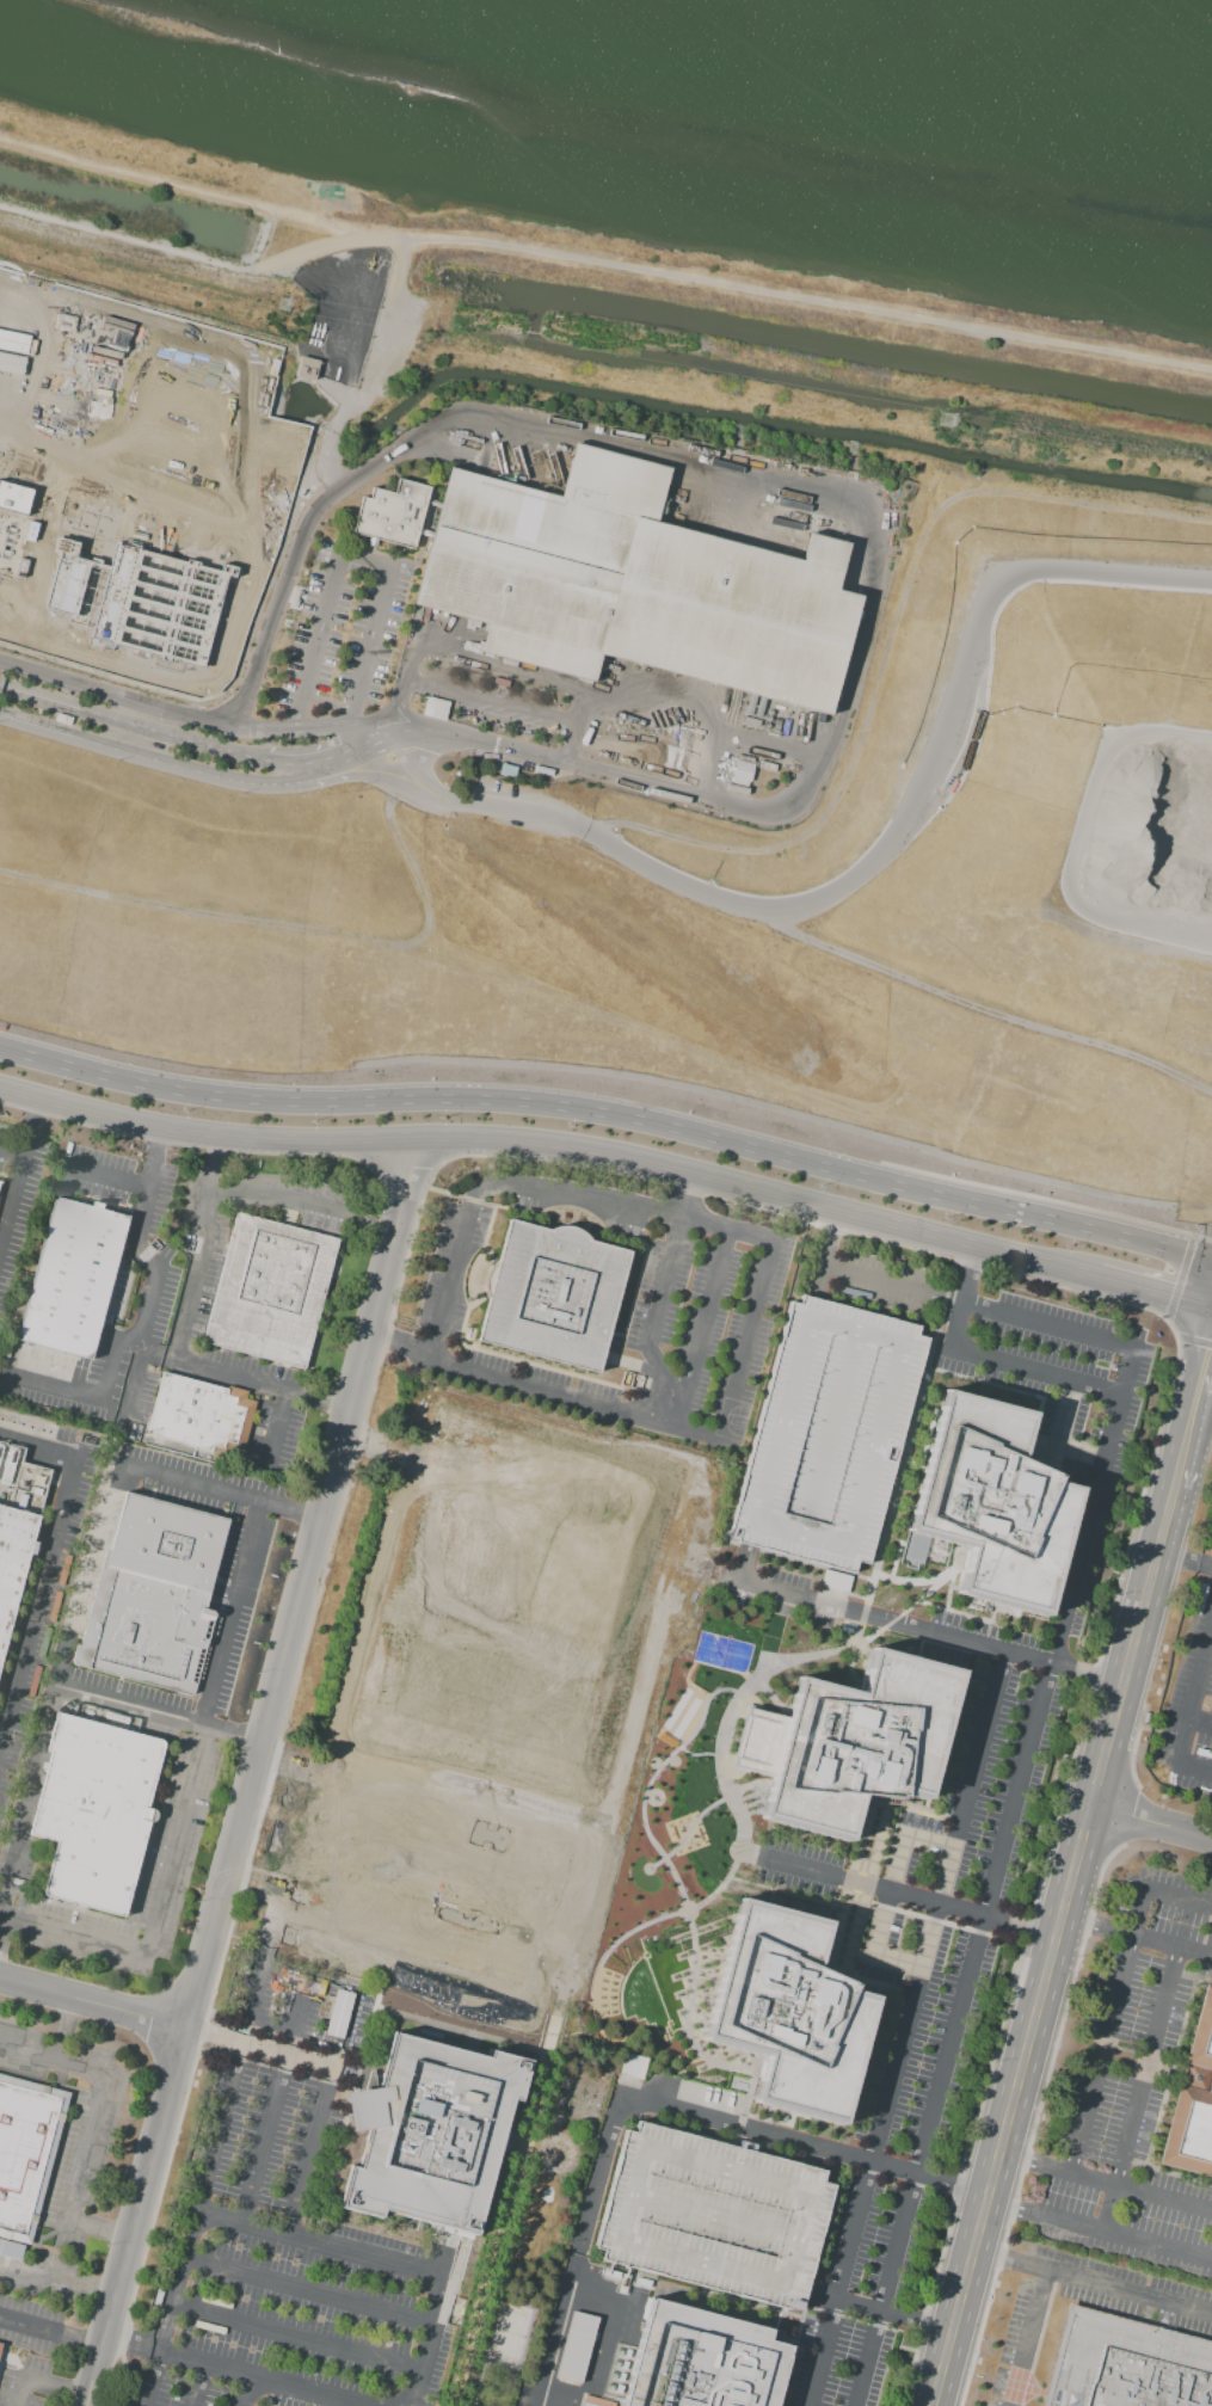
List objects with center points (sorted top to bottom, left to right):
road: (171, 185)
road: (603, 263)
power tower: (287, 307)
building: (306, 368)
power tower: (945, 424)
road: (720, 469)
wastewater plant: (139, 481)
building: (392, 516)
building: (539, 558)
road: (347, 559)
building: (207, 580)
building: (736, 614)
road: (675, 622)
road: (478, 697)
road: (327, 703)
building: (436, 709)
road: (195, 721)
road: (291, 724)
road: (350, 732)
road: (578, 747)
road: (287, 761)
road: (173, 762)
building: (742, 770)
building: (507, 771)
road: (853, 873)
landfill: (694, 878)
road: (983, 1008)
road: (610, 1110)
road: (553, 1149)
road: (13, 1150)
road: (156, 1150)
road: (215, 1152)
road: (106, 1183)
road: (288, 1195)
road: (685, 1198)
road: (623, 1204)
road: (13, 1205)
road: (380, 1223)
road: (830, 1241)
road: (198, 1264)
building: (70, 1270)
road: (451, 1273)
building: (266, 1293)
building: (556, 1293)
road: (1153, 1296)
road: (962, 1298)
traffic signals: (1169, 1300)
road: (978, 1307)
road: (652, 1322)
road: (701, 1327)
road: (139, 1331)
road: (744, 1341)
road: (398, 1344)
traffic signals: (1208, 1350)
road: (1035, 1371)
road: (224, 1373)
road: (131, 1383)
road: (573, 1397)
road: (327, 1402)
road: (1193, 1410)
building: (193, 1419)
road: (279, 1427)
building: (829, 1433)
parking lot: (829, 1433)
road: (140, 1471)
building: (993, 1503)
road: (299, 1515)
building: (17, 1532)
road: (694, 1543)
road: (1182, 1564)
road: (85, 1575)
building: (156, 1594)
road: (41, 1610)
road: (843, 1610)
road: (228, 1614)
road: (1085, 1673)
road: (1194, 1705)
road: (159, 1713)
road: (1201, 1719)
building: (849, 1742)
road: (1195, 1772)
road: (252, 1773)
road: (29, 1804)
building: (94, 1811)
road: (1150, 1823)
road: (930, 1832)
road: (176, 1841)
road: (793, 1865)
road: (992, 1877)
road: (886, 1895)
road: (1177, 1901)
road: (948, 1906)
road: (73, 1937)
road: (1134, 1937)
road: (1050, 1944)
road: (893, 1971)
road: (92, 2004)
building: (788, 2012)
road: (904, 2029)
road: (64, 2030)
road: (1107, 2033)
road: (1102, 2057)
road: (53, 2061)
building: (633, 2067)
road: (227, 2085)
parking lot: (1130, 2088)
road: (1139, 2091)
road: (1171, 2098)
road: (273, 2100)
road: (650, 2100)
building: (1194, 2102)
road: (319, 2112)
building: (431, 2134)
building: (26, 2150)
road: (85, 2152)
road: (1103, 2183)
building: (709, 2217)
road: (98, 2230)
road: (1096, 2232)
road: (315, 2242)
building: (11, 2250)
road: (995, 2259)
road: (41, 2272)
road: (99, 2289)
road: (1116, 2290)
road: (308, 2291)
building: (456, 2301)
road: (892, 2312)
parking lot: (1174, 2316)
road: (33, 2327)
road: (297, 2338)
road: (1029, 2339)
road: (85, 2340)
road: (131, 2343)
road: (427, 2343)
building: (576, 2346)
building: (0, 2347)
building: (702, 2361)
building: (1125, 2364)
road: (112, 2373)
road: (259, 2379)
road: (990, 2380)
road: (198, 2385)
road: (59, 2388)
road: (21, 2390)
road: (246, 2392)

